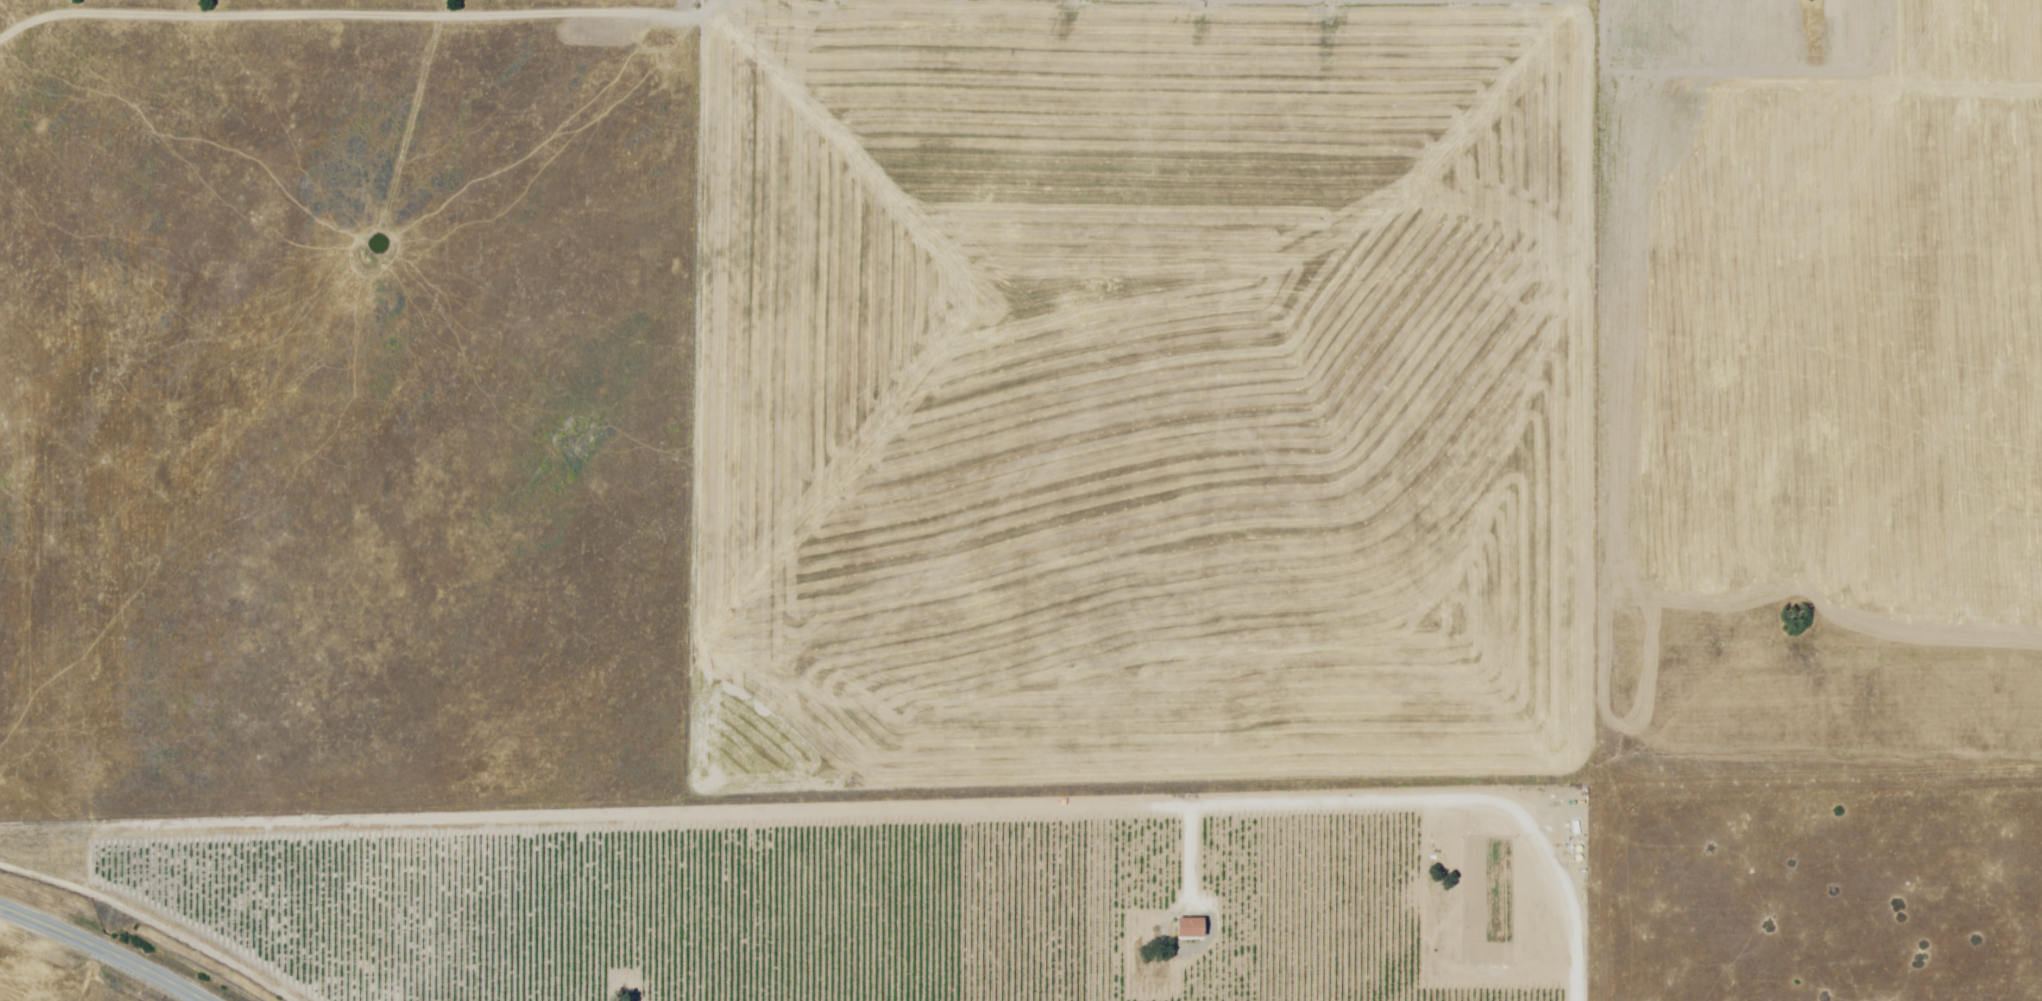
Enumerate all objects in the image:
building: (1581, 876)
building: (1189, 927)
road: (99, 954)

